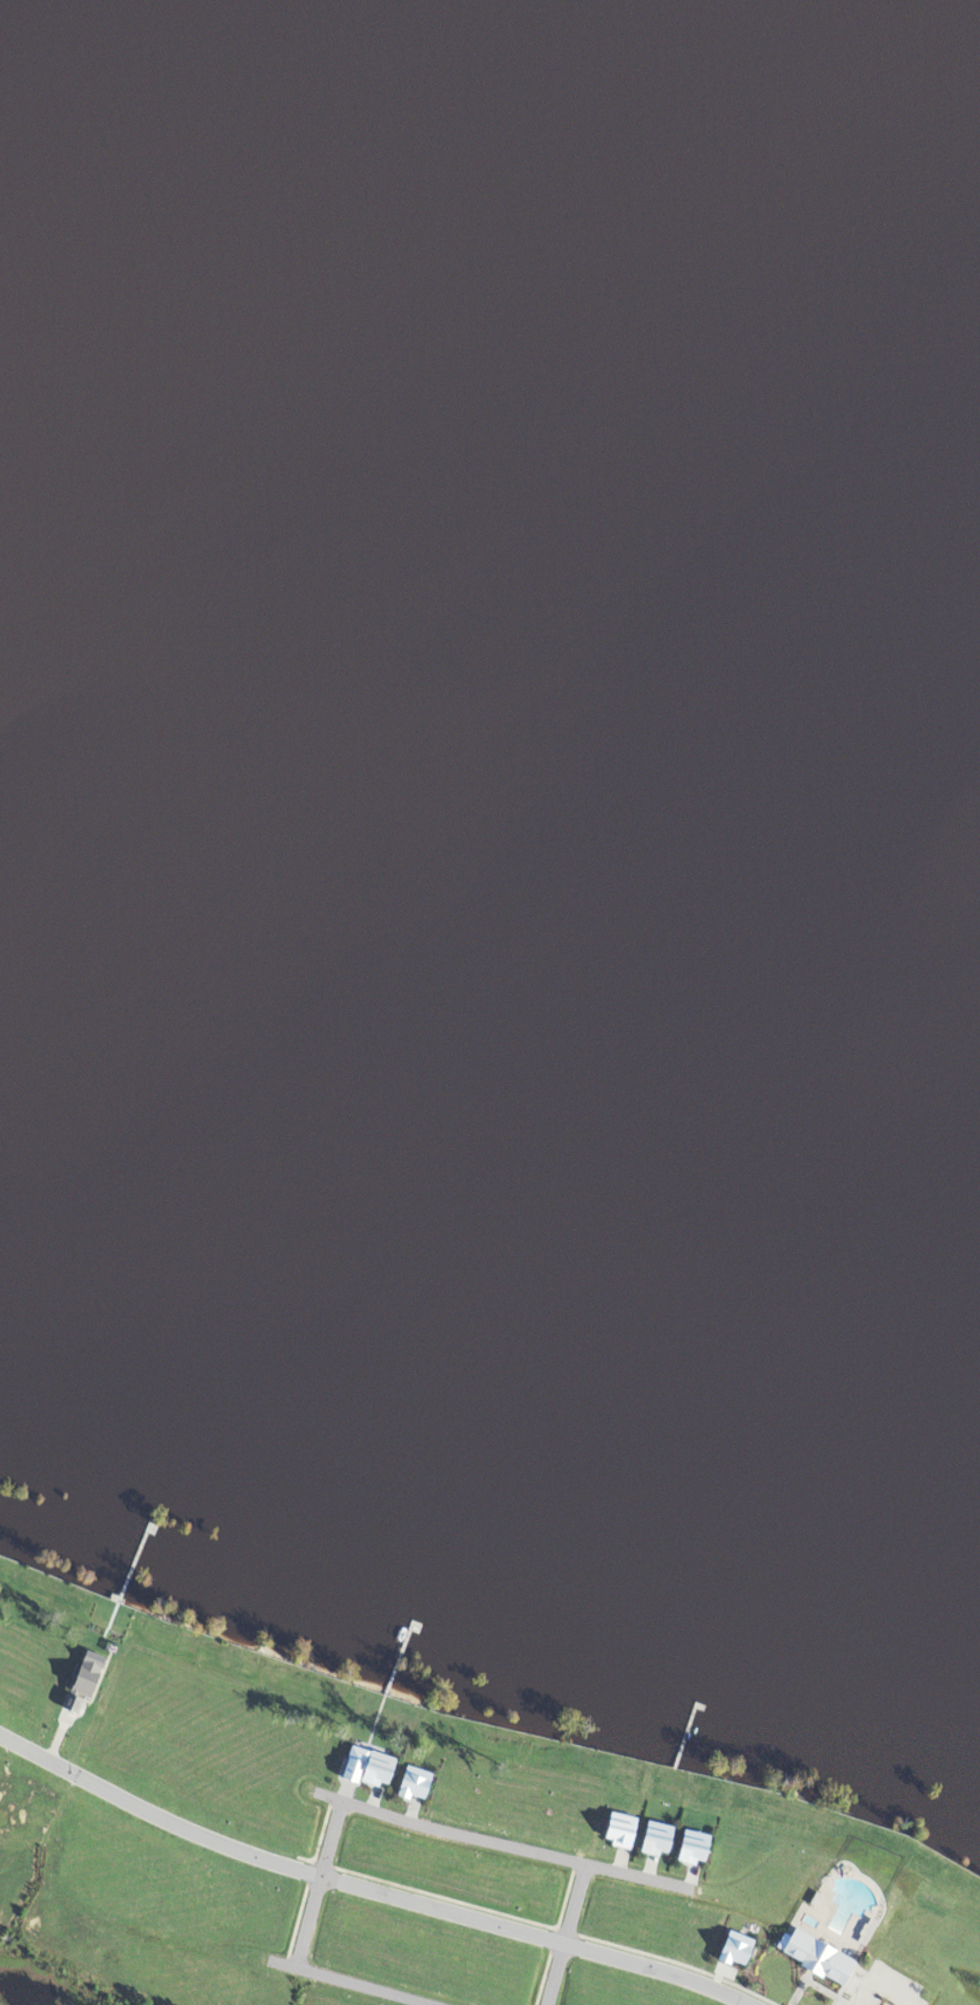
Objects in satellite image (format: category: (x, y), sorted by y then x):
building: (81, 1686)
road: (54, 1740)
building: (364, 1776)
building: (411, 1790)
road: (369, 1805)
road: (409, 1816)
building: (618, 1836)
building: (653, 1845)
road: (493, 1847)
building: (689, 1855)
road: (615, 1866)
road: (645, 1874)
road: (685, 1884)
road: (361, 1891)
road: (563, 1936)
road: (298, 1949)
building: (732, 1955)
building: (813, 1963)
road: (280, 1965)
road: (795, 1993)

